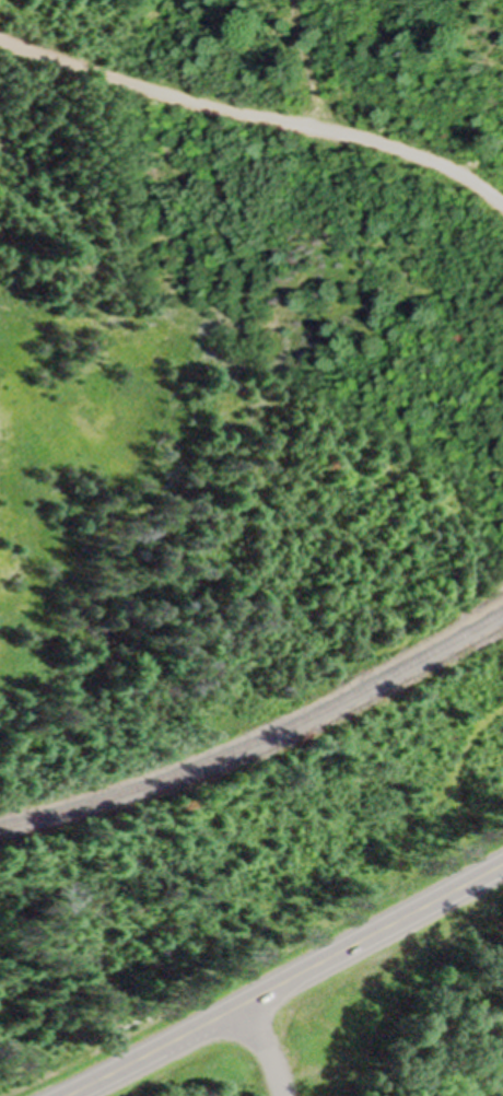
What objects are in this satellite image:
road: (305, 67)
road: (254, 114)
railway: (259, 739)
road: (283, 979)
road: (264, 1048)

